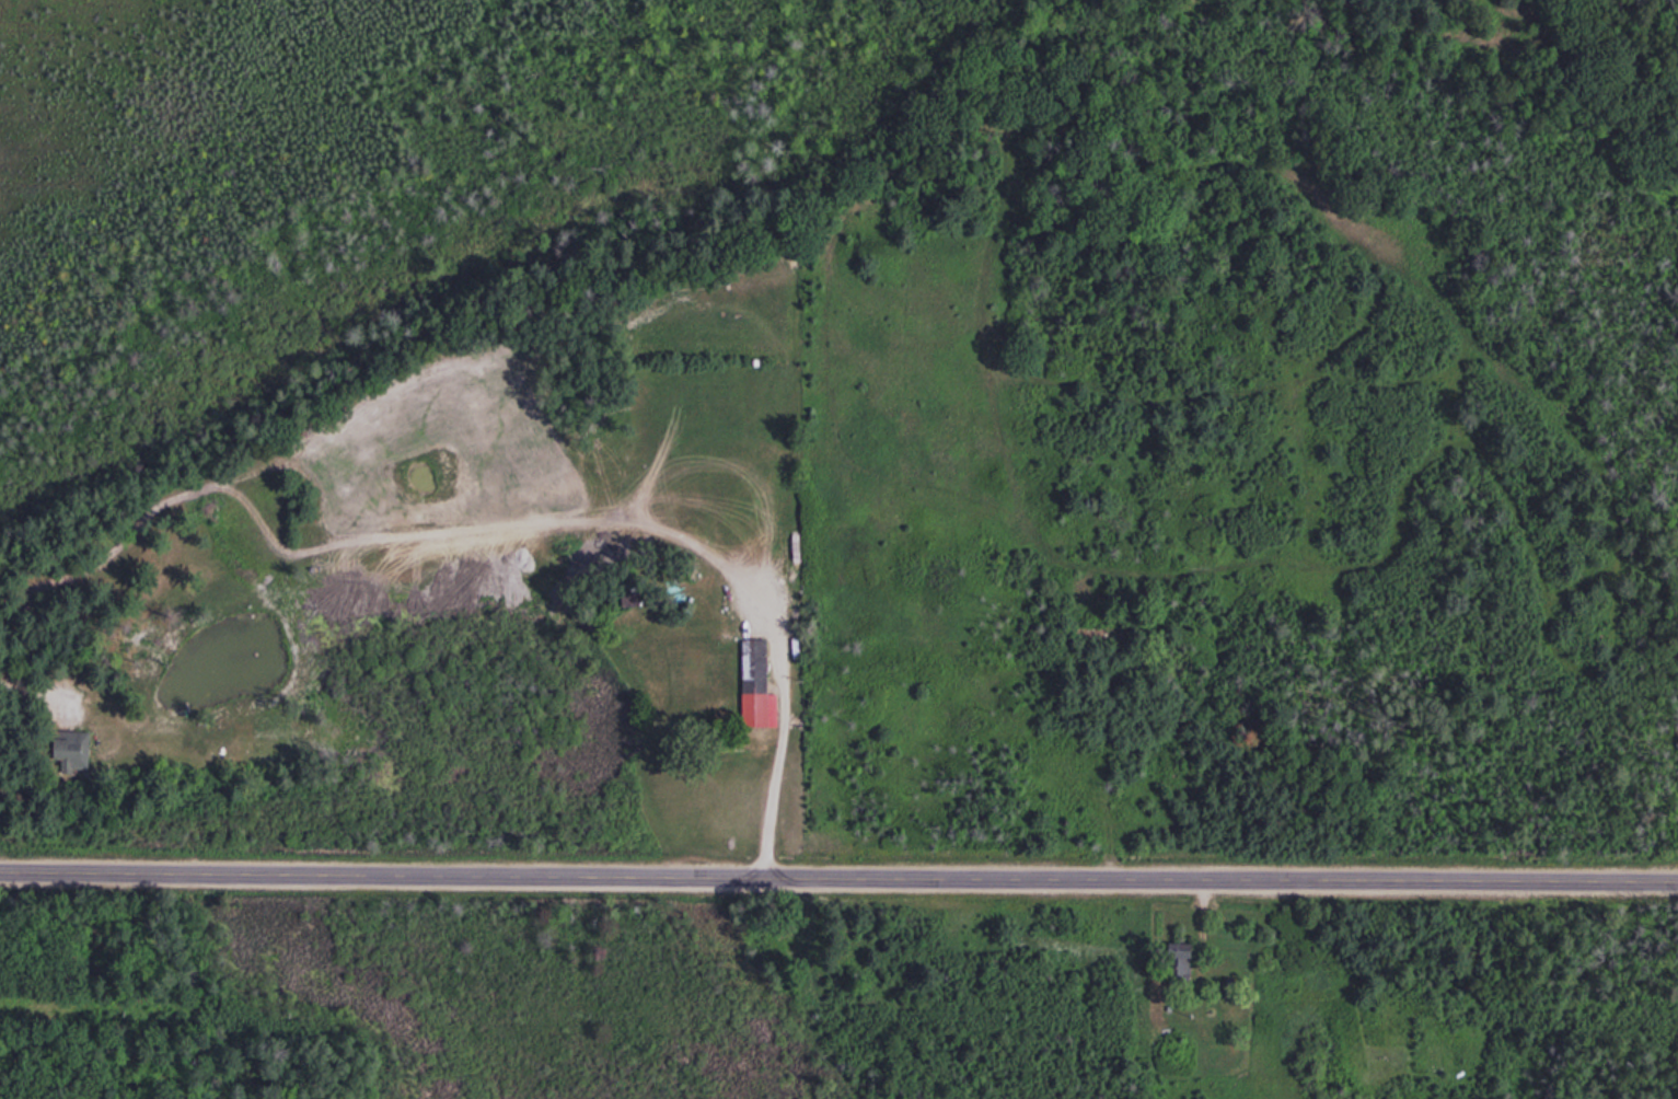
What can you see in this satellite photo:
building: (753, 684)
building: (69, 749)
road: (838, 871)
building: (1177, 965)
building: (1213, 1053)

